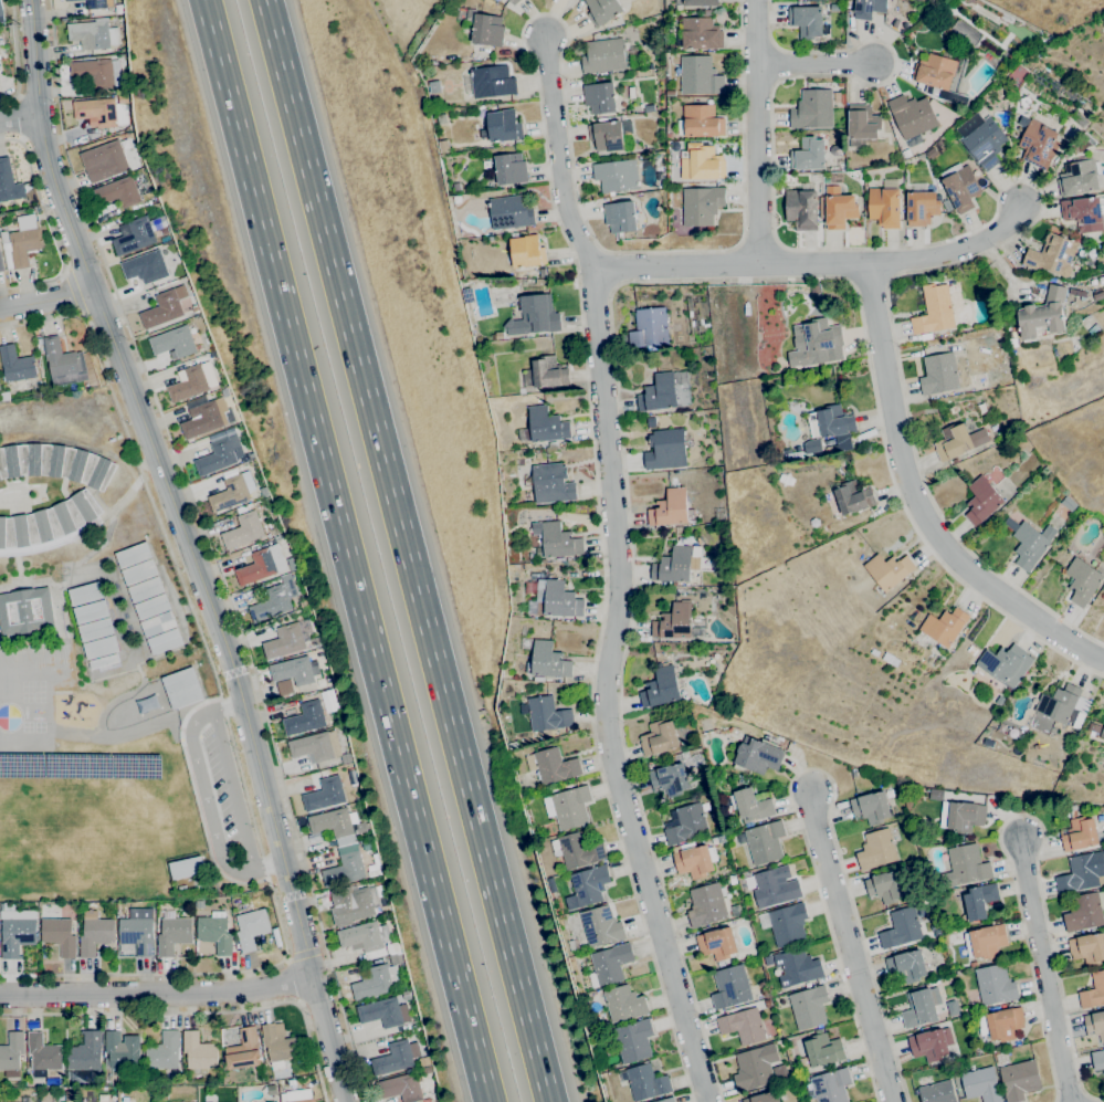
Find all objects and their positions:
building: (72, 0)
building: (513, 1)
building: (700, 2)
building: (99, 4)
building: (848, 4)
building: (679, 7)
building: (868, 8)
building: (1, 9)
building: (602, 10)
building: (0, 17)
building: (806, 21)
building: (895, 23)
building: (486, 30)
building: (964, 31)
building: (700, 33)
building: (92, 34)
road: (14, 55)
building: (603, 55)
building: (1001, 67)
building: (93, 72)
road: (820, 72)
building: (464, 74)
building: (700, 76)
building: (942, 77)
building: (492, 81)
building: (670, 93)
building: (600, 97)
building: (123, 98)
building: (812, 109)
building: (101, 112)
building: (912, 116)
building: (1077, 116)
road: (17, 117)
road: (19, 117)
building: (700, 122)
building: (862, 123)
building: (500, 127)
building: (518, 130)
road: (764, 133)
building: (611, 135)
building: (985, 143)
building: (1039, 144)
building: (906, 153)
building: (808, 155)
road: (566, 157)
building: (104, 161)
building: (701, 162)
building: (486, 164)
building: (509, 169)
building: (616, 176)
building: (1077, 177)
building: (9, 182)
building: (959, 187)
building: (118, 192)
building: (701, 204)
building: (884, 207)
building: (839, 208)
building: (921, 208)
building: (801, 209)
road: (995, 209)
building: (509, 212)
building: (1084, 213)
building: (620, 218)
road: (50, 225)
building: (164, 230)
building: (136, 234)
road: (564, 238)
building: (21, 242)
building: (526, 251)
building: (1052, 254)
building: (1, 262)
road: (999, 264)
road: (822, 265)
building: (145, 266)
building: (542, 273)
building: (540, 282)
building: (1093, 282)
building: (814, 290)
building: (1076, 293)
road: (69, 294)
building: (1098, 295)
road: (46, 300)
building: (164, 307)
building: (934, 311)
building: (534, 316)
building: (1043, 316)
building: (1087, 318)
building: (650, 328)
building: (1094, 328)
road: (611, 334)
building: (498, 335)
building: (528, 336)
building: (926, 336)
building: (174, 342)
building: (816, 343)
building: (1001, 343)
building: (198, 347)
building: (63, 363)
building: (15, 365)
building: (548, 372)
building: (938, 374)
building: (191, 381)
building: (224, 392)
building: (659, 393)
building: (4, 396)
building: (203, 417)
building: (547, 426)
building: (832, 427)
building: (958, 441)
building: (813, 442)
building: (665, 450)
building: (219, 452)
building: (245, 459)
building: (955, 461)
building: (55, 463)
building: (551, 483)
building: (585, 484)
road: (166, 489)
building: (230, 494)
building: (853, 497)
building: (982, 501)
road: (918, 504)
building: (670, 508)
building: (545, 513)
building: (49, 522)
building: (1010, 525)
building: (243, 531)
building: (559, 540)
building: (1032, 544)
road: (209, 548)
road: (346, 550)
road: (406, 550)
building: (133, 555)
building: (291, 564)
building: (261, 565)
building: (673, 565)
building: (889, 570)
building: (138, 571)
building: (1023, 577)
building: (1083, 581)
building: (146, 589)
building: (85, 592)
building: (556, 599)
building: (274, 600)
building: (303, 604)
building: (151, 607)
building: (25, 611)
building: (91, 611)
building: (673, 621)
building: (158, 623)
building: (944, 627)
building: (95, 629)
building: (288, 639)
building: (165, 641)
building: (527, 644)
building: (101, 647)
building: (971, 650)
building: (103, 661)
building: (548, 661)
building: (1005, 663)
building: (294, 671)
building: (538, 679)
building: (182, 688)
building: (284, 688)
building: (661, 688)
road: (613, 691)
building: (1063, 705)
building: (547, 715)
building: (305, 718)
building: (705, 725)
building: (1093, 727)
road: (229, 731)
building: (1073, 731)
building: (1102, 732)
building: (659, 738)
building: (513, 745)
building: (315, 747)
building: (757, 755)
building: (346, 757)
building: (553, 766)
road: (810, 768)
building: (351, 777)
building: (670, 779)
road: (232, 789)
parking lot: (220, 795)
building: (324, 795)
building: (946, 795)
road: (204, 797)
building: (750, 805)
building: (568, 807)
building: (871, 807)
road: (1024, 815)
building: (963, 817)
building: (334, 825)
building: (685, 825)
building: (361, 827)
building: (1079, 833)
building: (656, 837)
building: (742, 841)
building: (765, 842)
building: (577, 850)
building: (876, 850)
building: (694, 860)
building: (964, 867)
building: (187, 868)
building: (345, 870)
building: (1081, 872)
building: (374, 873)
building: (732, 881)
building: (587, 886)
building: (775, 886)
building: (886, 886)
building: (182, 889)
building: (979, 901)
building: (350, 904)
building: (706, 905)
building: (385, 909)
building: (736, 911)
building: (1084, 911)
building: (17, 914)
building: (785, 924)
building: (600, 926)
building: (251, 928)
building: (901, 928)
building: (138, 931)
building: (15, 932)
building: (215, 932)
building: (95, 933)
building: (170, 933)
building: (59, 935)
building: (367, 940)
building: (985, 941)
building: (717, 944)
building: (571, 945)
building: (1087, 948)
road: (855, 952)
road: (305, 954)
building: (397, 958)
building: (768, 961)
building: (972, 964)
building: (609, 965)
building: (906, 966)
building: (797, 967)
road: (1045, 969)
road: (287, 980)
building: (376, 982)
building: (808, 985)
building: (995, 985)
building: (730, 988)
building: (1093, 991)
building: (975, 993)
road: (157, 995)
building: (406, 995)
road: (317, 1000)
building: (623, 1004)
building: (809, 1007)
building: (922, 1007)
road: (200, 1011)
building: (955, 1011)
building: (383, 1012)
building: (1001, 1024)
building: (1095, 1025)
building: (743, 1026)
road: (328, 1040)
building: (633, 1040)
building: (930, 1043)
building: (278, 1045)
building: (1003, 1046)
building: (122, 1050)
building: (244, 1050)
building: (11, 1051)
building: (164, 1051)
building: (199, 1051)
building: (821, 1051)
building: (86, 1053)
building: (43, 1054)
building: (395, 1058)
building: (1097, 1060)
building: (424, 1062)
building: (755, 1067)
building: (425, 1070)
building: (1019, 1080)
building: (646, 1082)
building: (980, 1084)
building: (830, 1085)
building: (400, 1088)
building: (271, 1089)
building: (936, 1092)
building: (164, 1094)
building: (297, 1095)
building: (46, 1096)
building: (764, 1098)
building: (666, 1100)
building: (273, 1101)

